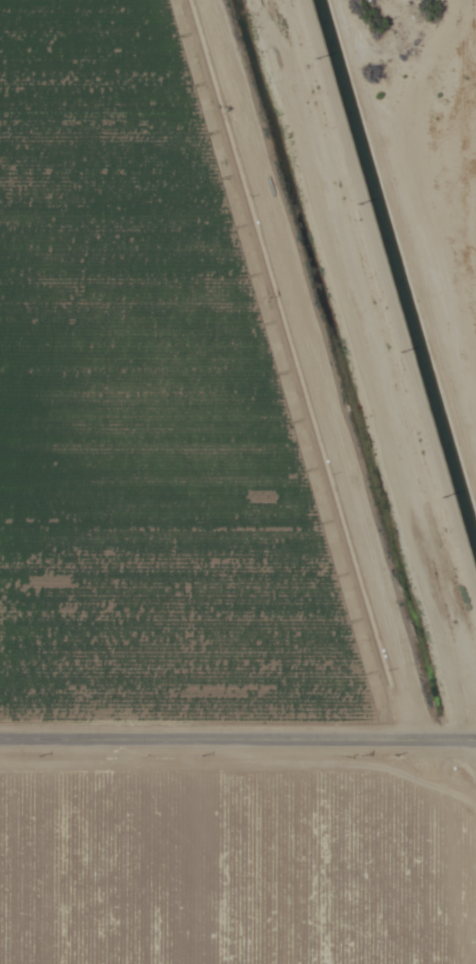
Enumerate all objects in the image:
road: (237, 739)

